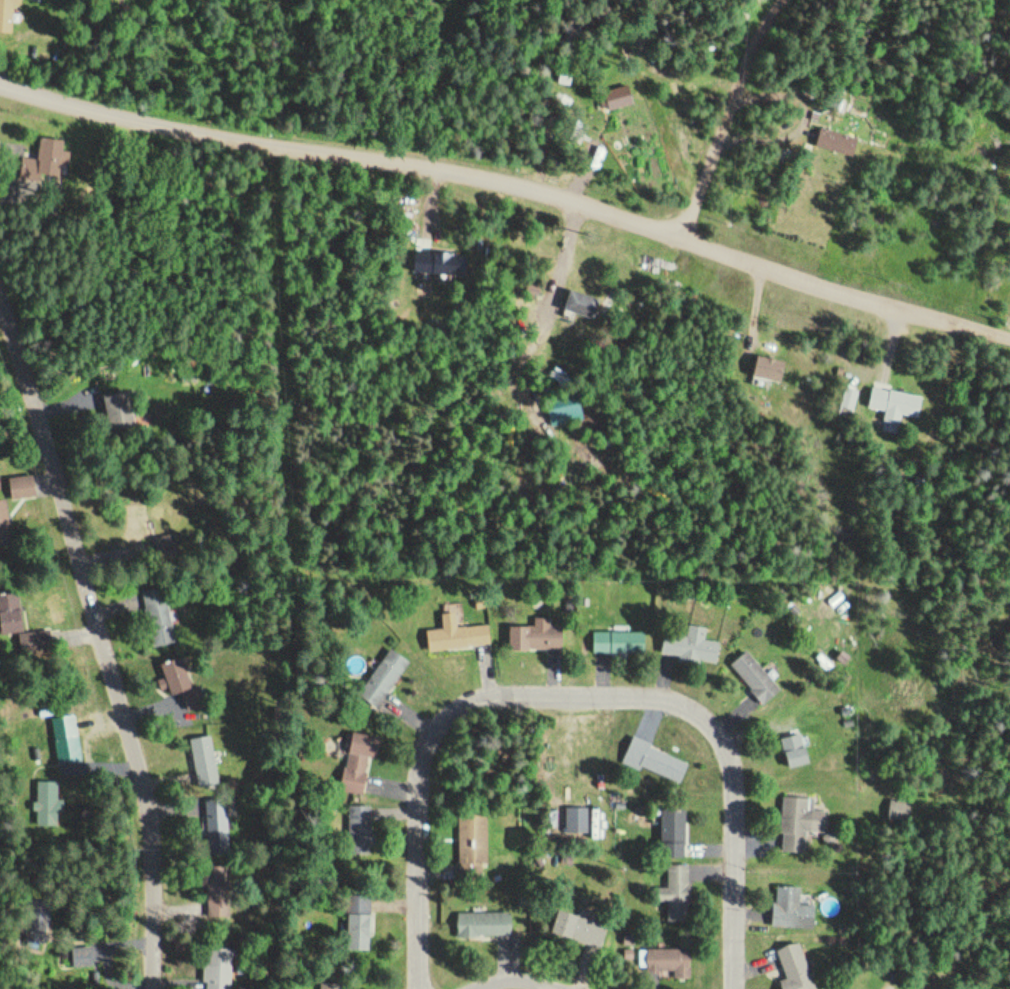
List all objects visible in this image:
building: (8, 16)
road: (256, 72)
building: (616, 98)
road: (730, 116)
building: (833, 142)
building: (53, 156)
road: (511, 183)
building: (436, 264)
building: (577, 305)
building: (764, 369)
building: (892, 402)
building: (124, 410)
building: (0, 483)
building: (24, 487)
building: (140, 524)
building: (6, 525)
building: (161, 616)
road: (100, 636)
building: (531, 637)
building: (32, 638)
building: (454, 638)
building: (613, 644)
building: (690, 649)
building: (750, 678)
building: (380, 679)
building: (184, 682)
road: (580, 691)
building: (791, 750)
building: (652, 761)
building: (356, 762)
building: (205, 763)
building: (48, 803)
building: (574, 821)
building: (796, 823)
building: (357, 832)
building: (667, 833)
building: (469, 845)
building: (220, 891)
building: (673, 894)
building: (788, 909)
building: (354, 924)
building: (480, 925)
building: (576, 930)
building: (80, 957)
building: (665, 963)
building: (792, 967)
building: (214, 968)
road: (514, 982)
building: (328, 985)

